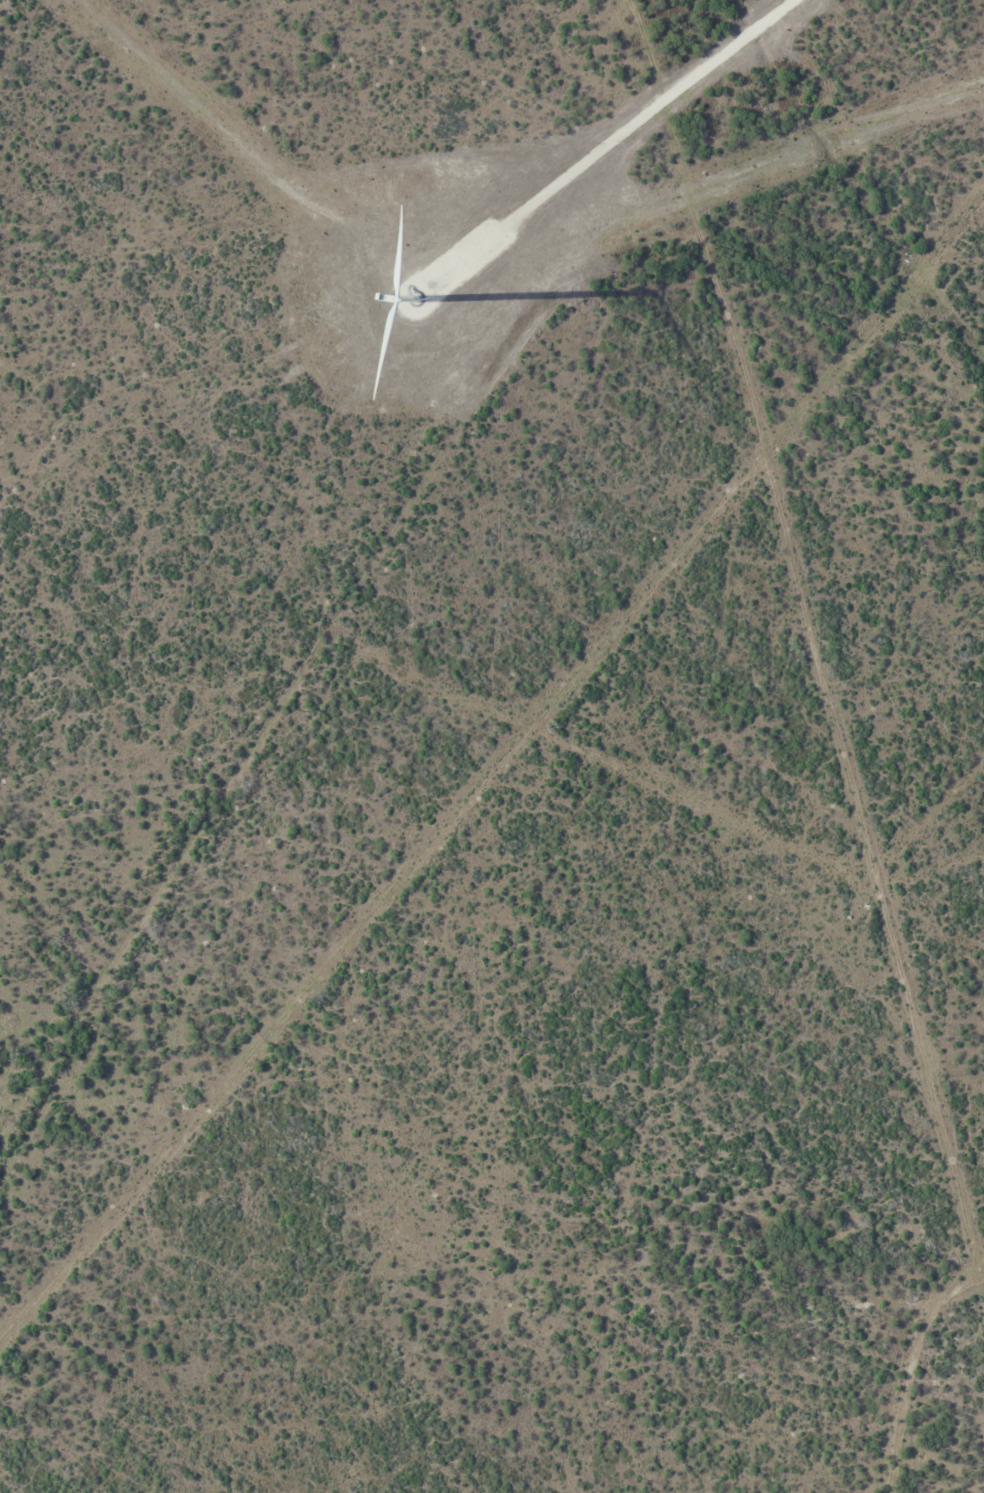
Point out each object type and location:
wind turbine: (410, 298)

